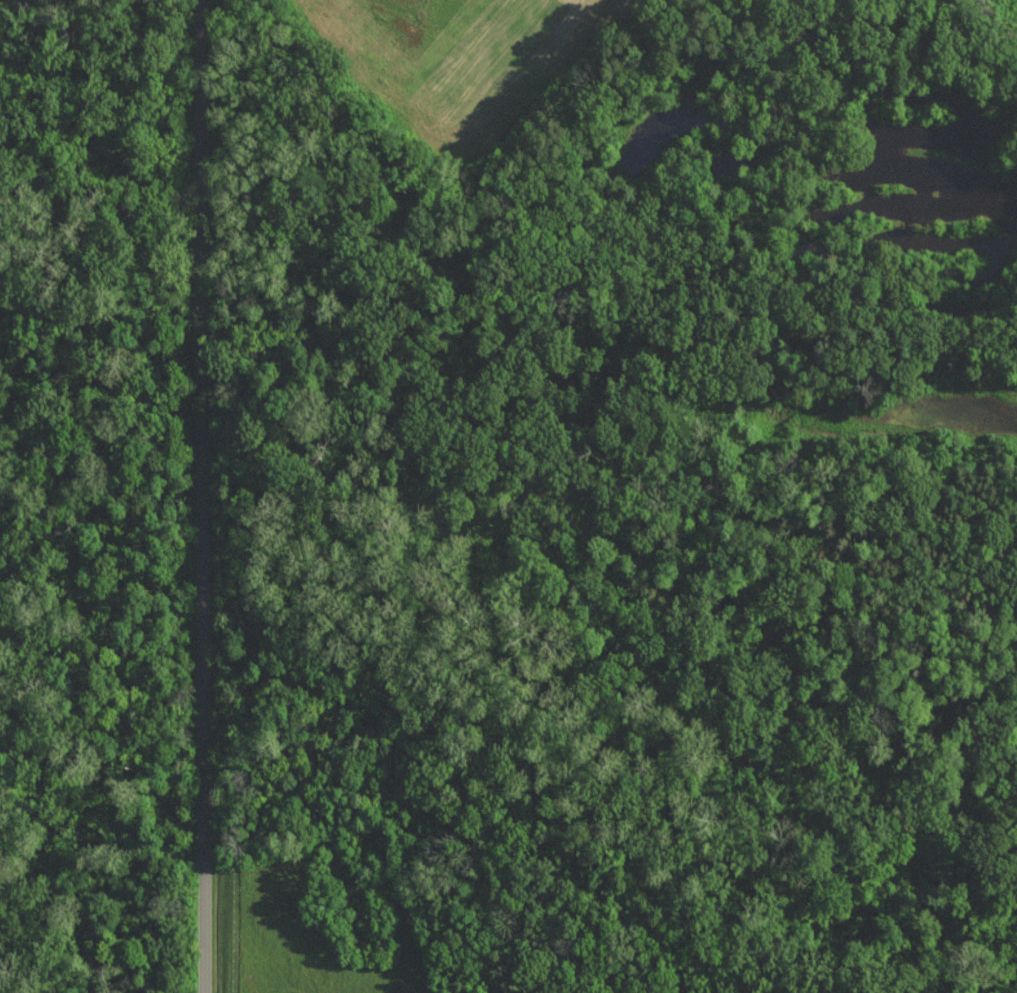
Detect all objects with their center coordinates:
road: (108, 293)
road: (217, 496)

